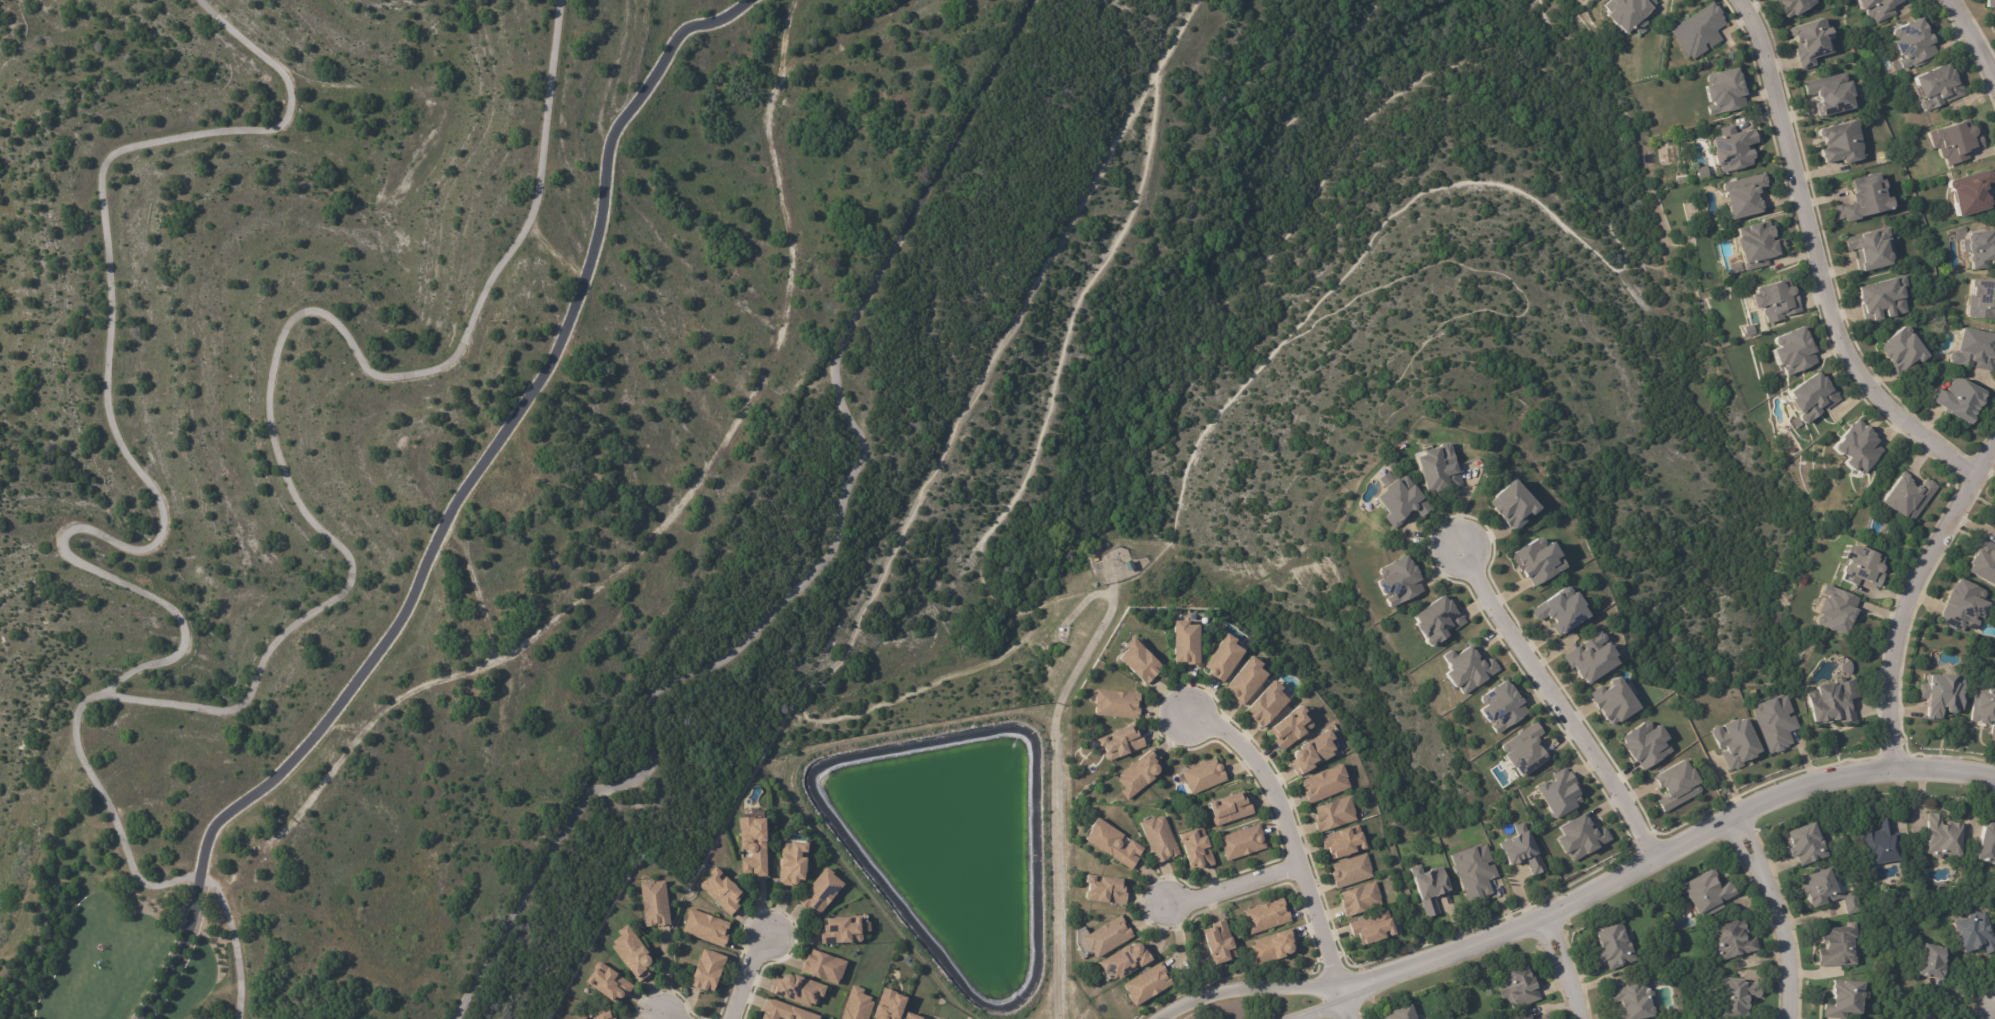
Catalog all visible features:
building: (1776, 0)
building: (1990, 3)
building: (1795, 5)
building: (1877, 8)
building: (1628, 13)
building: (1699, 30)
building: (1812, 41)
building: (1914, 43)
road: (1973, 46)
road: (1992, 79)
building: (1938, 87)
building: (1725, 91)
building: (1832, 93)
building: (1955, 141)
building: (1842, 142)
building: (1733, 149)
building: (1703, 172)
building: (1970, 192)
building: (1744, 196)
building: (1867, 198)
building: (1757, 245)
building: (1980, 248)
building: (1873, 249)
road: (1814, 263)
building: (1736, 268)
building: (1883, 299)
building: (1982, 299)
building: (1775, 301)
building: (1751, 330)
building: (1975, 349)
building: (1905, 350)
building: (1793, 352)
building: (1811, 397)
building: (1960, 398)
road: (491, 445)
building: (1857, 447)
building: (1439, 470)
building: (1908, 496)
building: (1402, 501)
building: (1514, 505)
building: (1539, 560)
building: (1984, 562)
building: (1128, 566)
building: (1863, 567)
road: (621, 573)
building: (1400, 583)
road: (1911, 589)
building: (1964, 606)
building: (1836, 610)
building: (1562, 611)
building: (1437, 621)
building: (1061, 630)
building: (1185, 644)
building: (1592, 659)
building: (1224, 660)
building: (1139, 663)
building: (1847, 668)
building: (1468, 670)
building: (1246, 682)
building: (1942, 695)
road: (1550, 697)
building: (1615, 703)
building: (1835, 703)
building: (1116, 705)
building: (1266, 706)
building: (1503, 708)
building: (1984, 708)
building: (1776, 723)
building: (1289, 729)
building: (1735, 743)
building: (1120, 744)
building: (1646, 745)
building: (1526, 752)
building: (1312, 753)
building: (1137, 775)
building: (1204, 777)
building: (1324, 784)
building: (1677, 785)
building: (1559, 793)
building: (1229, 810)
building: (1333, 815)
road: (1286, 836)
building: (1945, 836)
building: (1581, 838)
building: (1158, 840)
road: (1664, 840)
building: (1882, 842)
building: (1807, 843)
building: (1242, 844)
building: (1113, 845)
building: (1986, 845)
building: (1342, 846)
building: (751, 847)
building: (1195, 849)
building: (1851, 849)
building: (1521, 851)
building: (790, 865)
building: (1351, 872)
building: (1474, 872)
road: (1228, 886)
building: (1429, 887)
building: (1105, 890)
building: (1828, 890)
building: (721, 891)
building: (1707, 892)
building: (820, 893)
building: (1360, 899)
building: (653, 905)
road: (1787, 906)
building: (1266, 917)
building: (706, 928)
building: (1975, 931)
building: (840, 932)
building: (1371, 932)
building: (1106, 939)
building: (1733, 940)
building: (1219, 944)
building: (1616, 946)
building: (1839, 946)
building: (1272, 948)
building: (632, 954)
road: (1573, 957)
building: (1934, 961)
building: (1126, 962)
building: (823, 968)
road: (745, 971)
building: (706, 973)
building: (607, 985)
building: (1146, 986)
building: (1519, 986)
road: (1252, 987)
building: (798, 989)
building: (1739, 995)
building: (1844, 999)
building: (1633, 1000)
road: (1329, 1003)
road: (1353, 1003)
building: (856, 1005)
building: (888, 1006)
road: (1957, 1006)
building: (783, 1011)
building: (1399, 1013)
building: (602, 1015)
road: (659, 1015)
building: (909, 1017)
building: (924, 1017)
building: (1521, 1017)
building: (585, 1018)
building: (938, 1018)
building: (1541, 1018)
building: (1547, 1018)

